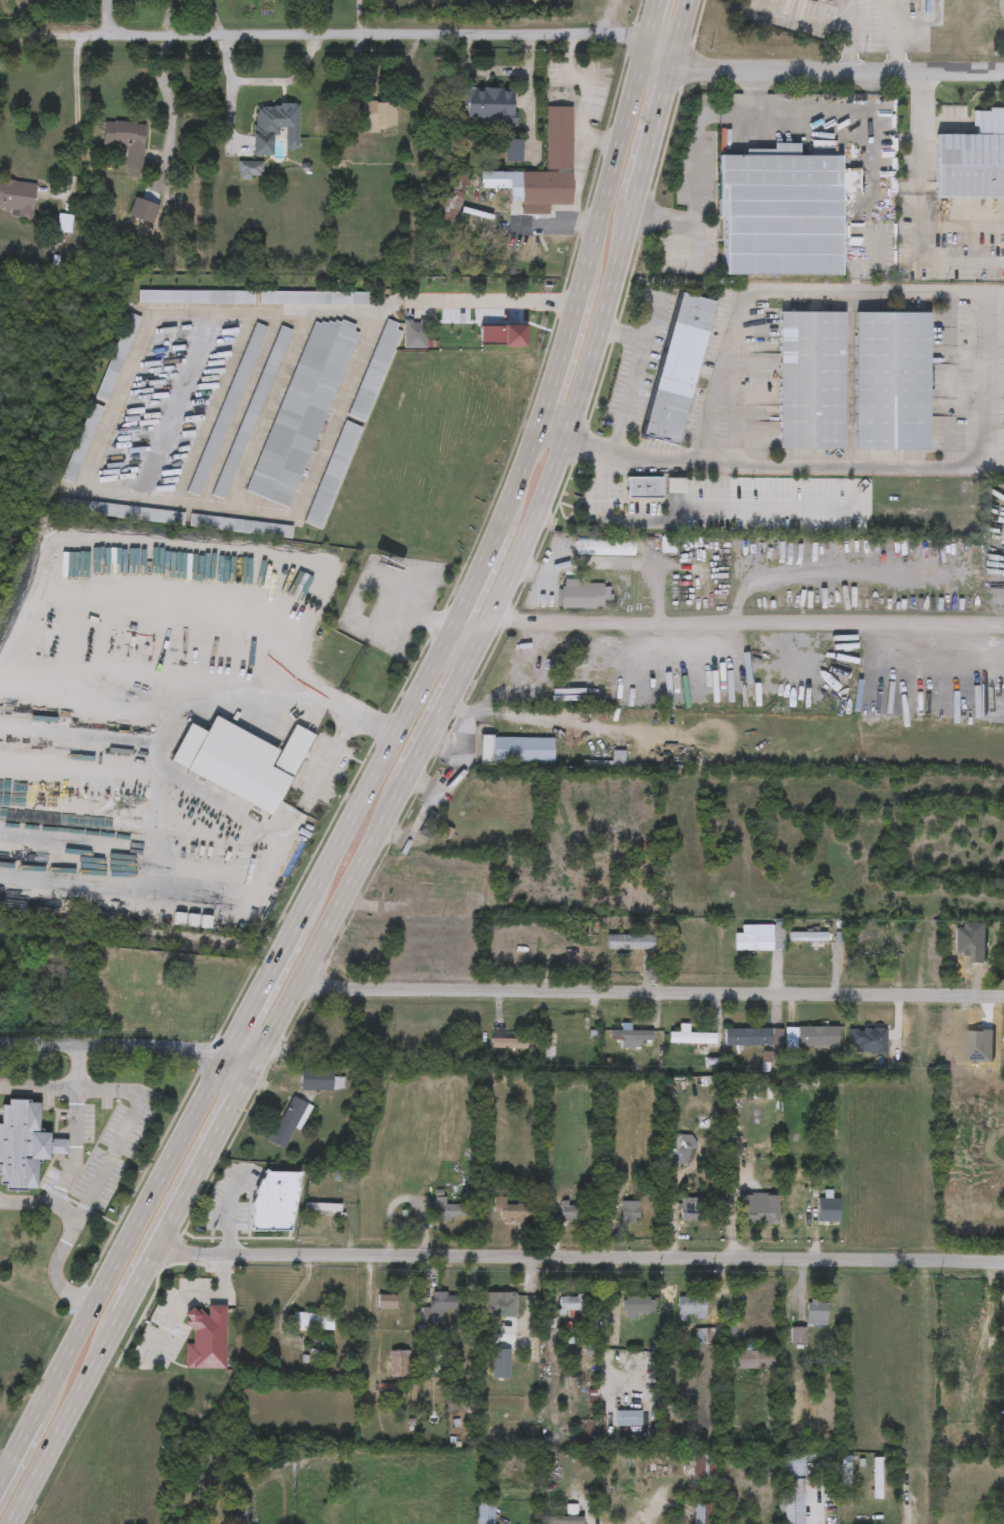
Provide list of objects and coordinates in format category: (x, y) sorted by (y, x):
building: (807, 0)
road: (113, 14)
road: (849, 23)
road: (341, 30)
road: (849, 35)
road: (495, 69)
road: (840, 69)
road: (266, 81)
road: (585, 100)
road: (170, 101)
building: (489, 106)
road: (841, 116)
building: (380, 117)
road: (77, 122)
building: (275, 127)
building: (559, 138)
building: (126, 141)
road: (697, 145)
building: (513, 152)
building: (972, 158)
building: (250, 170)
building: (533, 186)
building: (18, 198)
building: (451, 198)
road: (919, 209)
building: (779, 210)
building: (64, 224)
road: (961, 226)
road: (865, 290)
road: (994, 292)
building: (196, 298)
building: (313, 298)
road: (649, 320)
building: (415, 335)
building: (117, 358)
building: (678, 367)
building: (374, 371)
road: (633, 378)
building: (811, 379)
building: (891, 380)
road: (114, 395)
building: (301, 411)
building: (251, 414)
building: (82, 444)
road: (771, 461)
building: (332, 476)
building: (672, 484)
building: (641, 486)
road: (691, 506)
building: (121, 512)
building: (239, 527)
building: (601, 544)
road: (493, 548)
road: (523, 555)
road: (583, 562)
road: (402, 570)
road: (829, 573)
building: (584, 593)
road: (654, 595)
building: (368, 609)
road: (387, 617)
road: (749, 623)
road: (383, 635)
road: (467, 637)
road: (348, 708)
building: (518, 748)
road: (334, 753)
building: (243, 761)
road: (167, 825)
building: (760, 936)
building: (809, 937)
building: (629, 940)
road: (651, 992)
building: (630, 1032)
building: (742, 1034)
building: (690, 1035)
building: (816, 1035)
building: (975, 1035)
building: (508, 1041)
road: (127, 1044)
building: (549, 1052)
building: (316, 1078)
road: (40, 1088)
building: (289, 1115)
building: (24, 1145)
road: (77, 1147)
building: (679, 1148)
road: (111, 1160)
road: (43, 1201)
building: (274, 1201)
building: (688, 1207)
building: (827, 1207)
building: (449, 1208)
building: (760, 1208)
building: (511, 1209)
building: (568, 1209)
building: (628, 1209)
road: (227, 1211)
road: (578, 1260)
road: (113, 1267)
road: (130, 1297)
road: (188, 1298)
building: (387, 1300)
building: (501, 1300)
building: (570, 1303)
building: (637, 1305)
building: (690, 1305)
building: (437, 1306)
building: (817, 1310)
building: (313, 1319)
building: (728, 1325)
building: (797, 1333)
building: (207, 1336)
building: (705, 1337)
building: (754, 1358)
building: (500, 1360)
building: (399, 1361)
building: (628, 1417)
building: (704, 1466)
building: (329, 1470)
building: (877, 1475)
building: (793, 1488)
building: (377, 1494)
building: (753, 1494)
road: (906, 1502)
road: (656, 1505)
road: (820, 1509)
building: (484, 1510)
building: (703, 1513)
building: (562, 1516)

